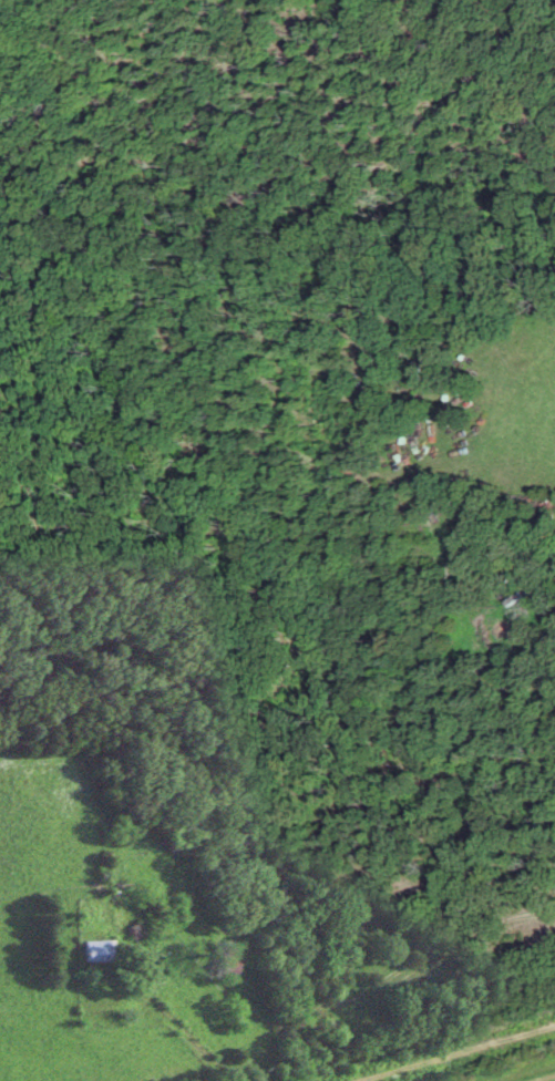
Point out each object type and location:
building: (85, 953)
building: (216, 968)
road: (172, 1027)
railway: (430, 1046)

